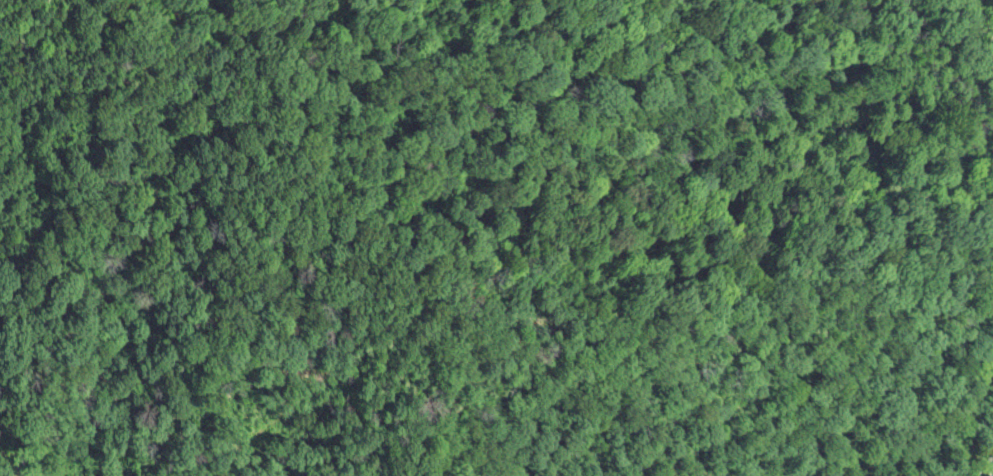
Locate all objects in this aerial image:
road: (983, 467)

